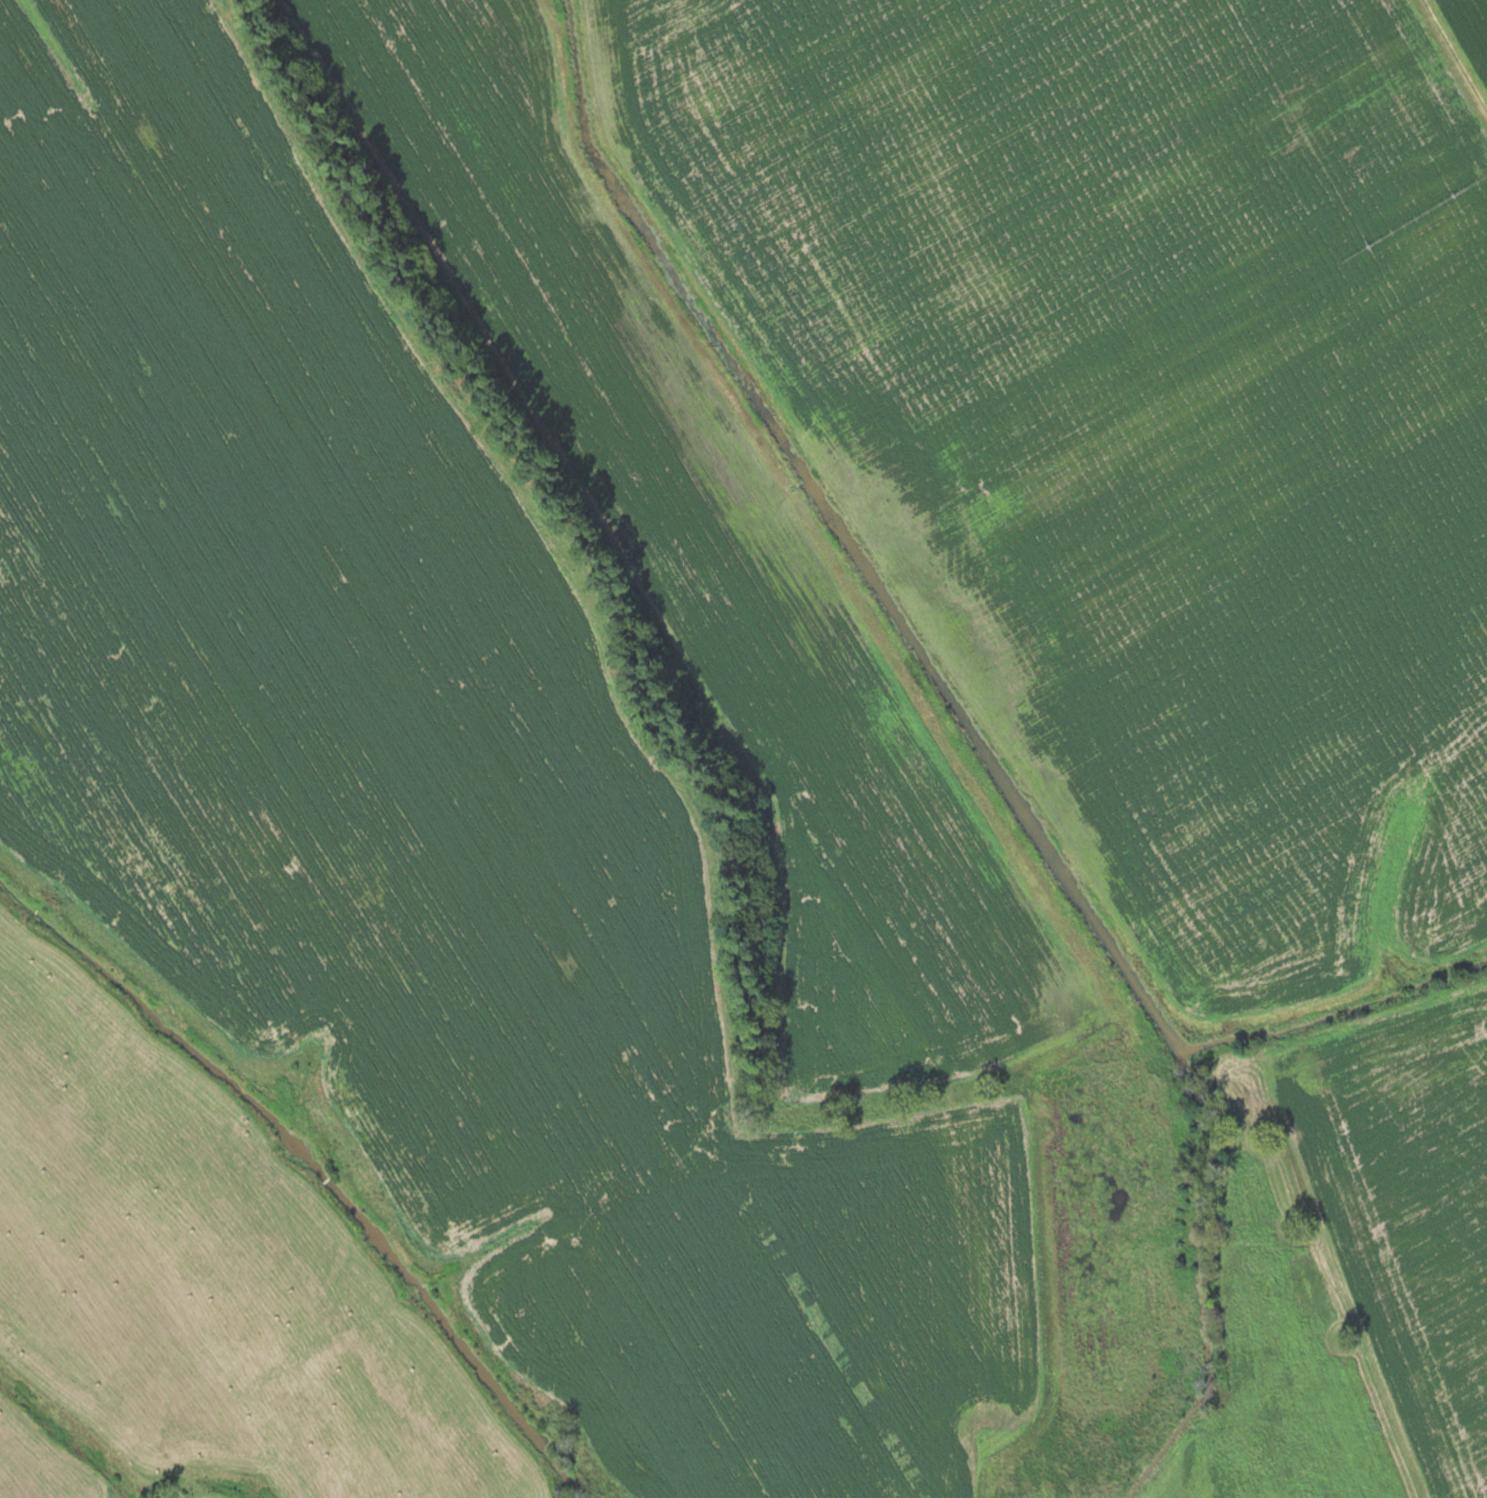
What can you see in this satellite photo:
road: (1453, 58)

